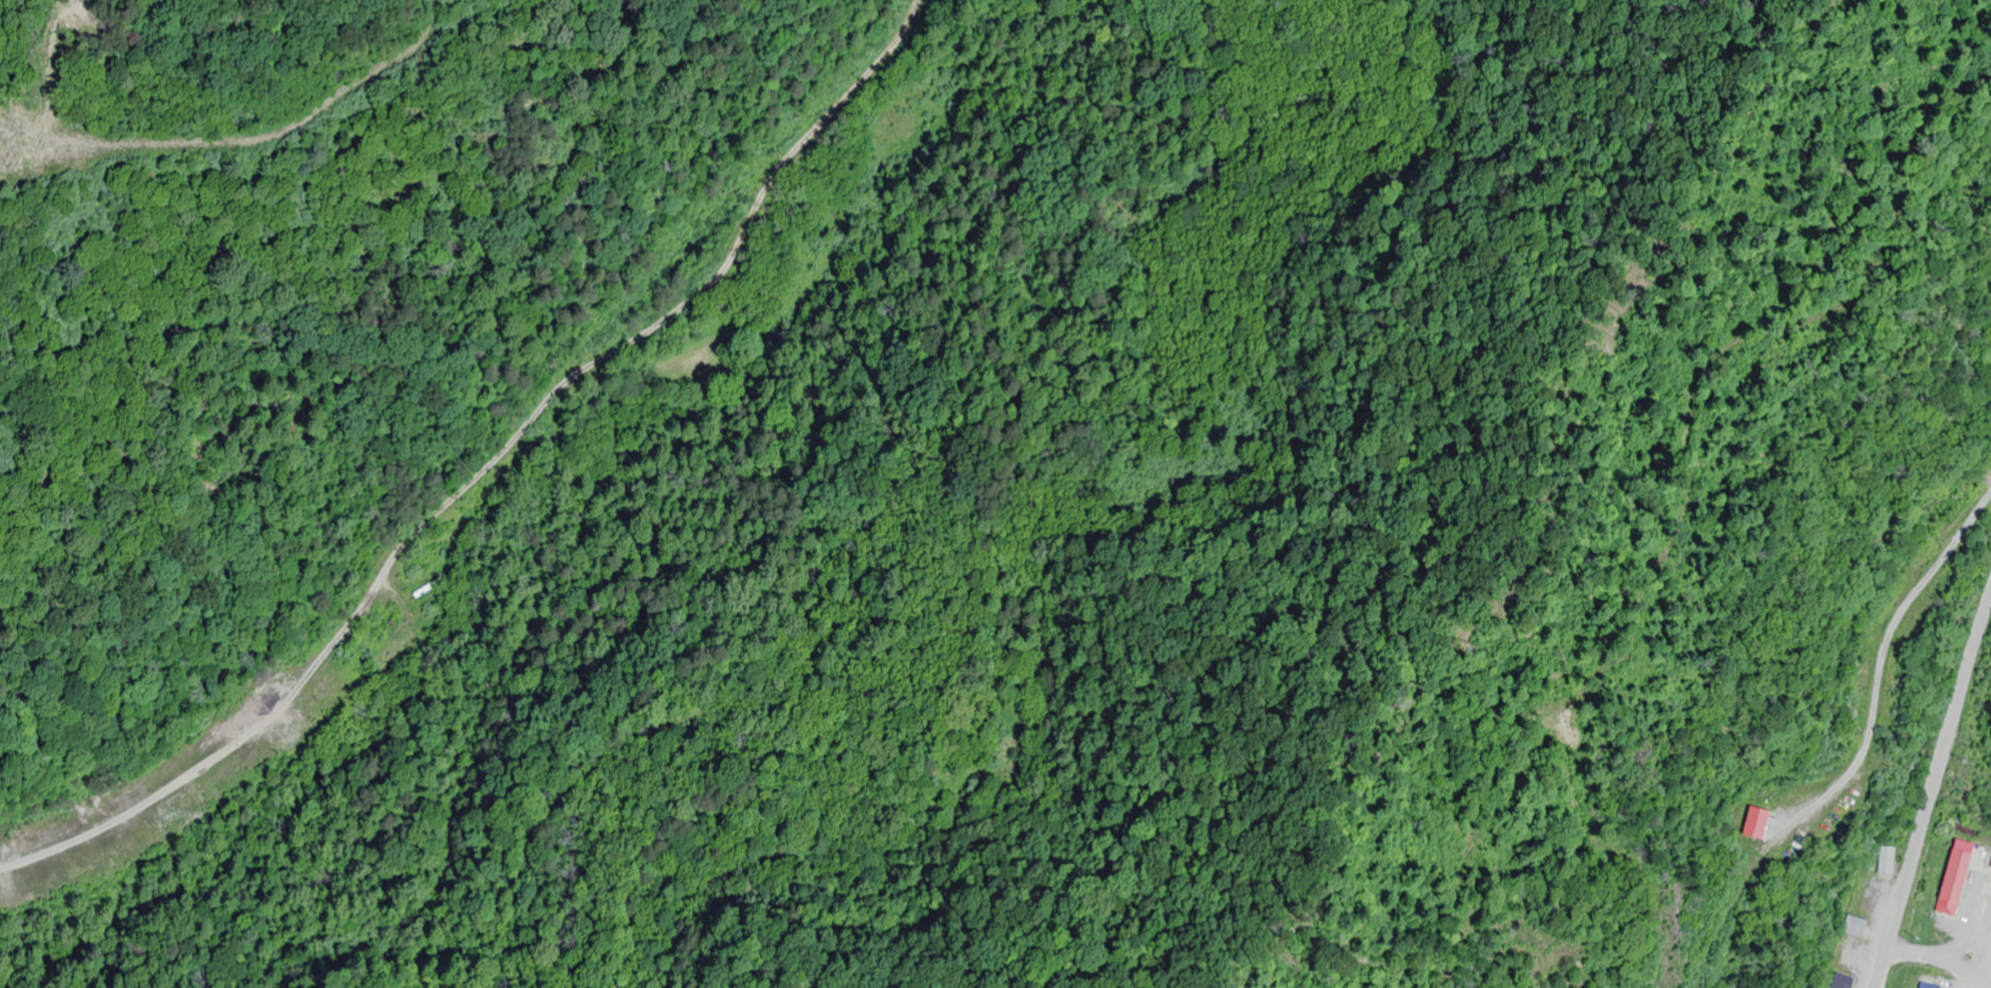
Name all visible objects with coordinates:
road: (472, 454)
building: (1890, 861)
building: (1861, 926)

